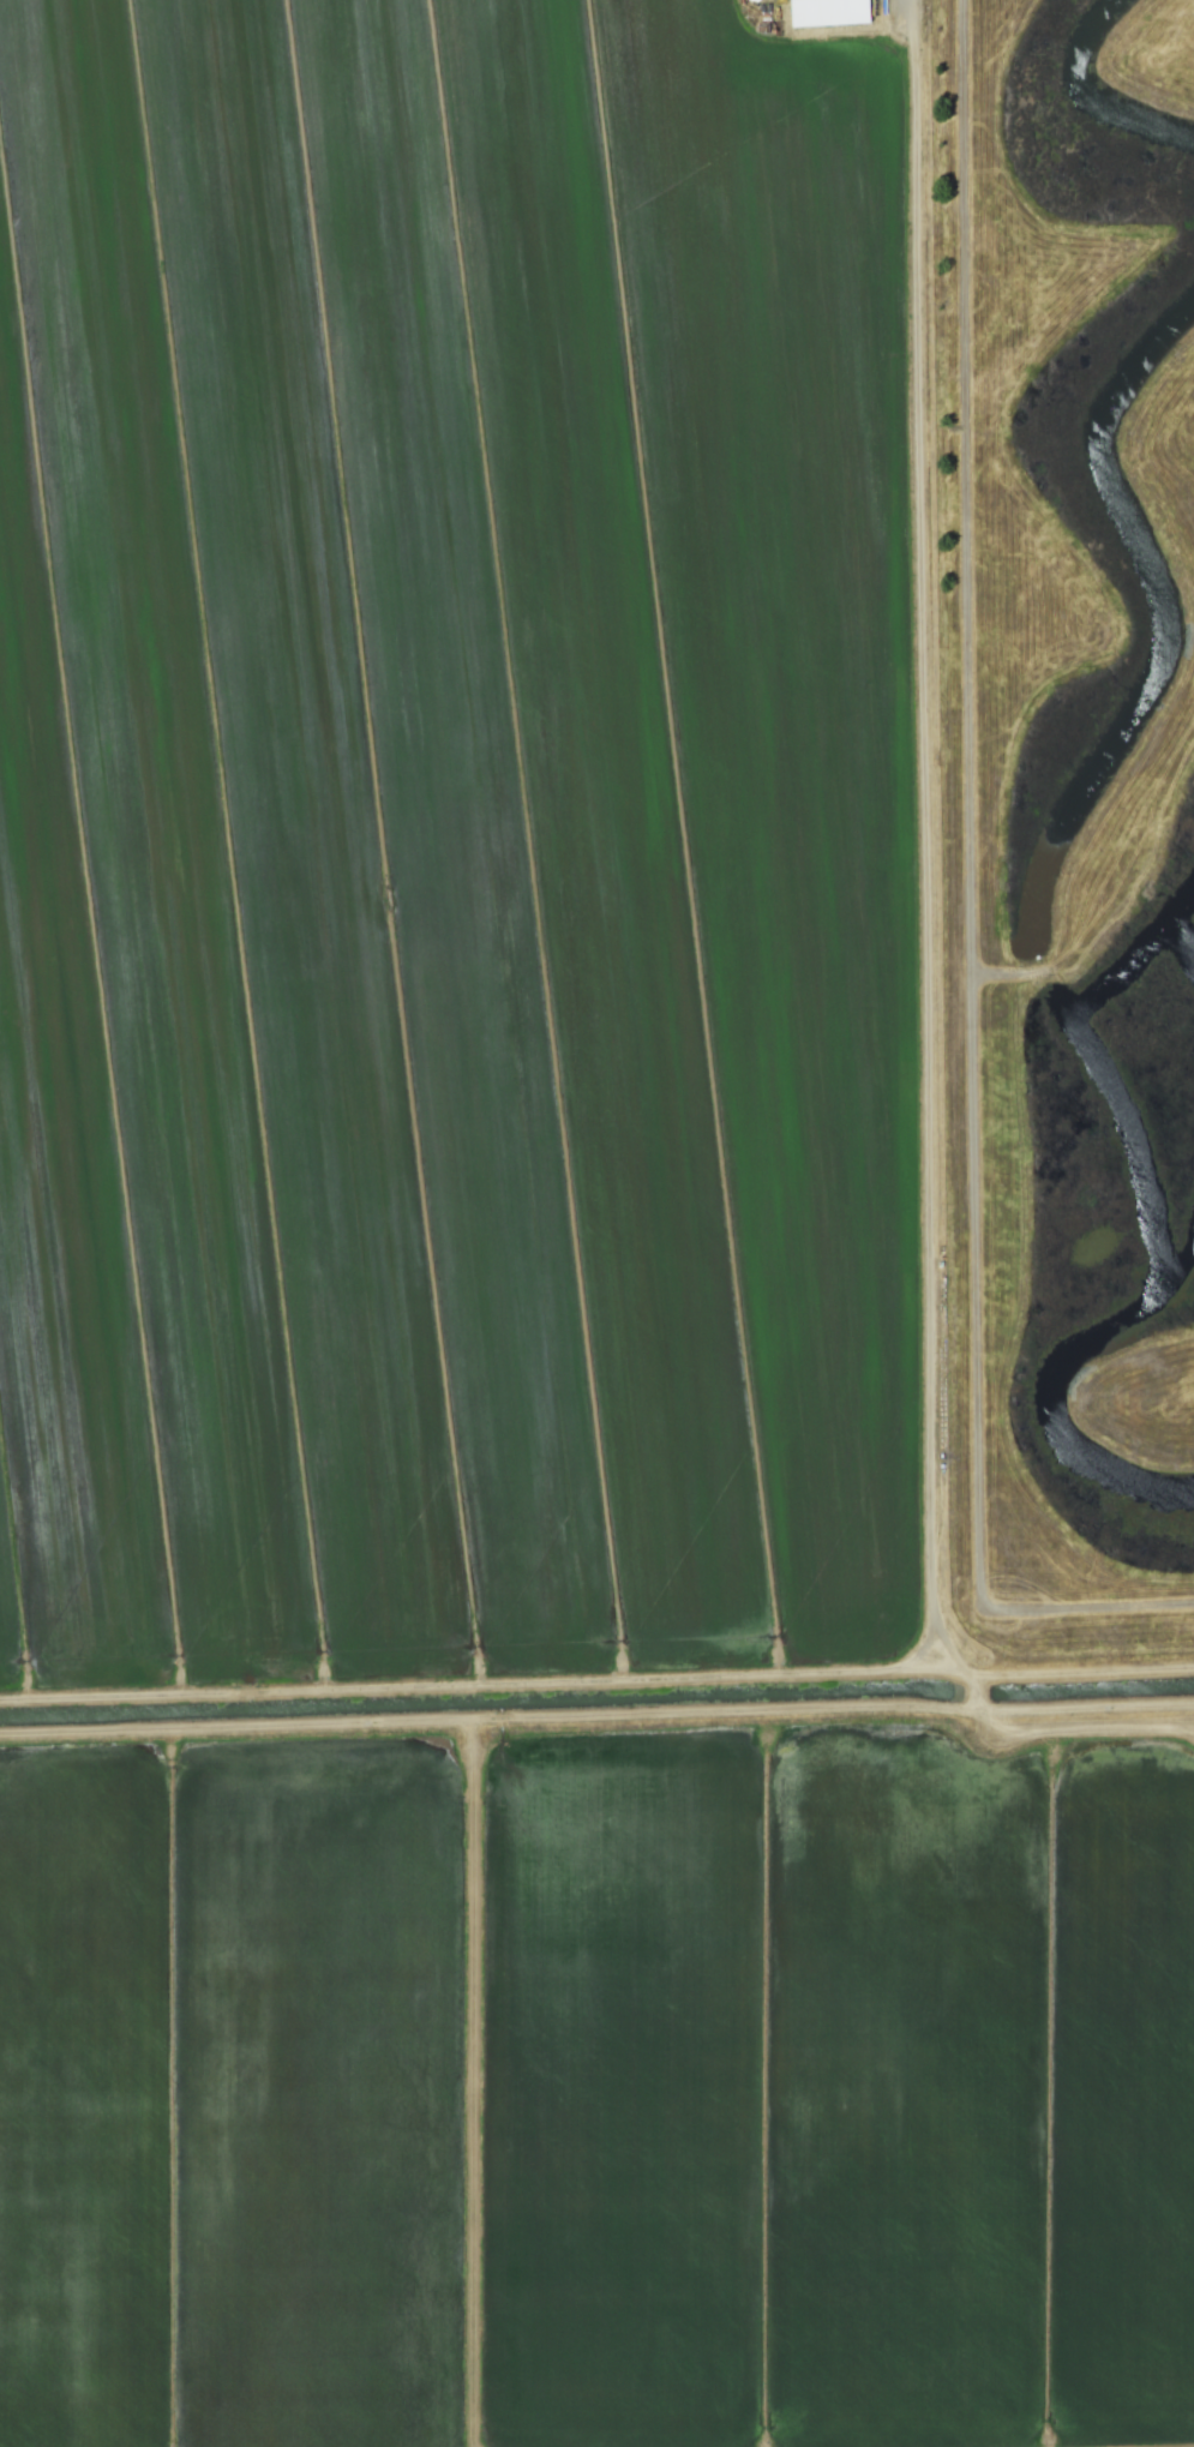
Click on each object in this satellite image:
building: (829, 12)

